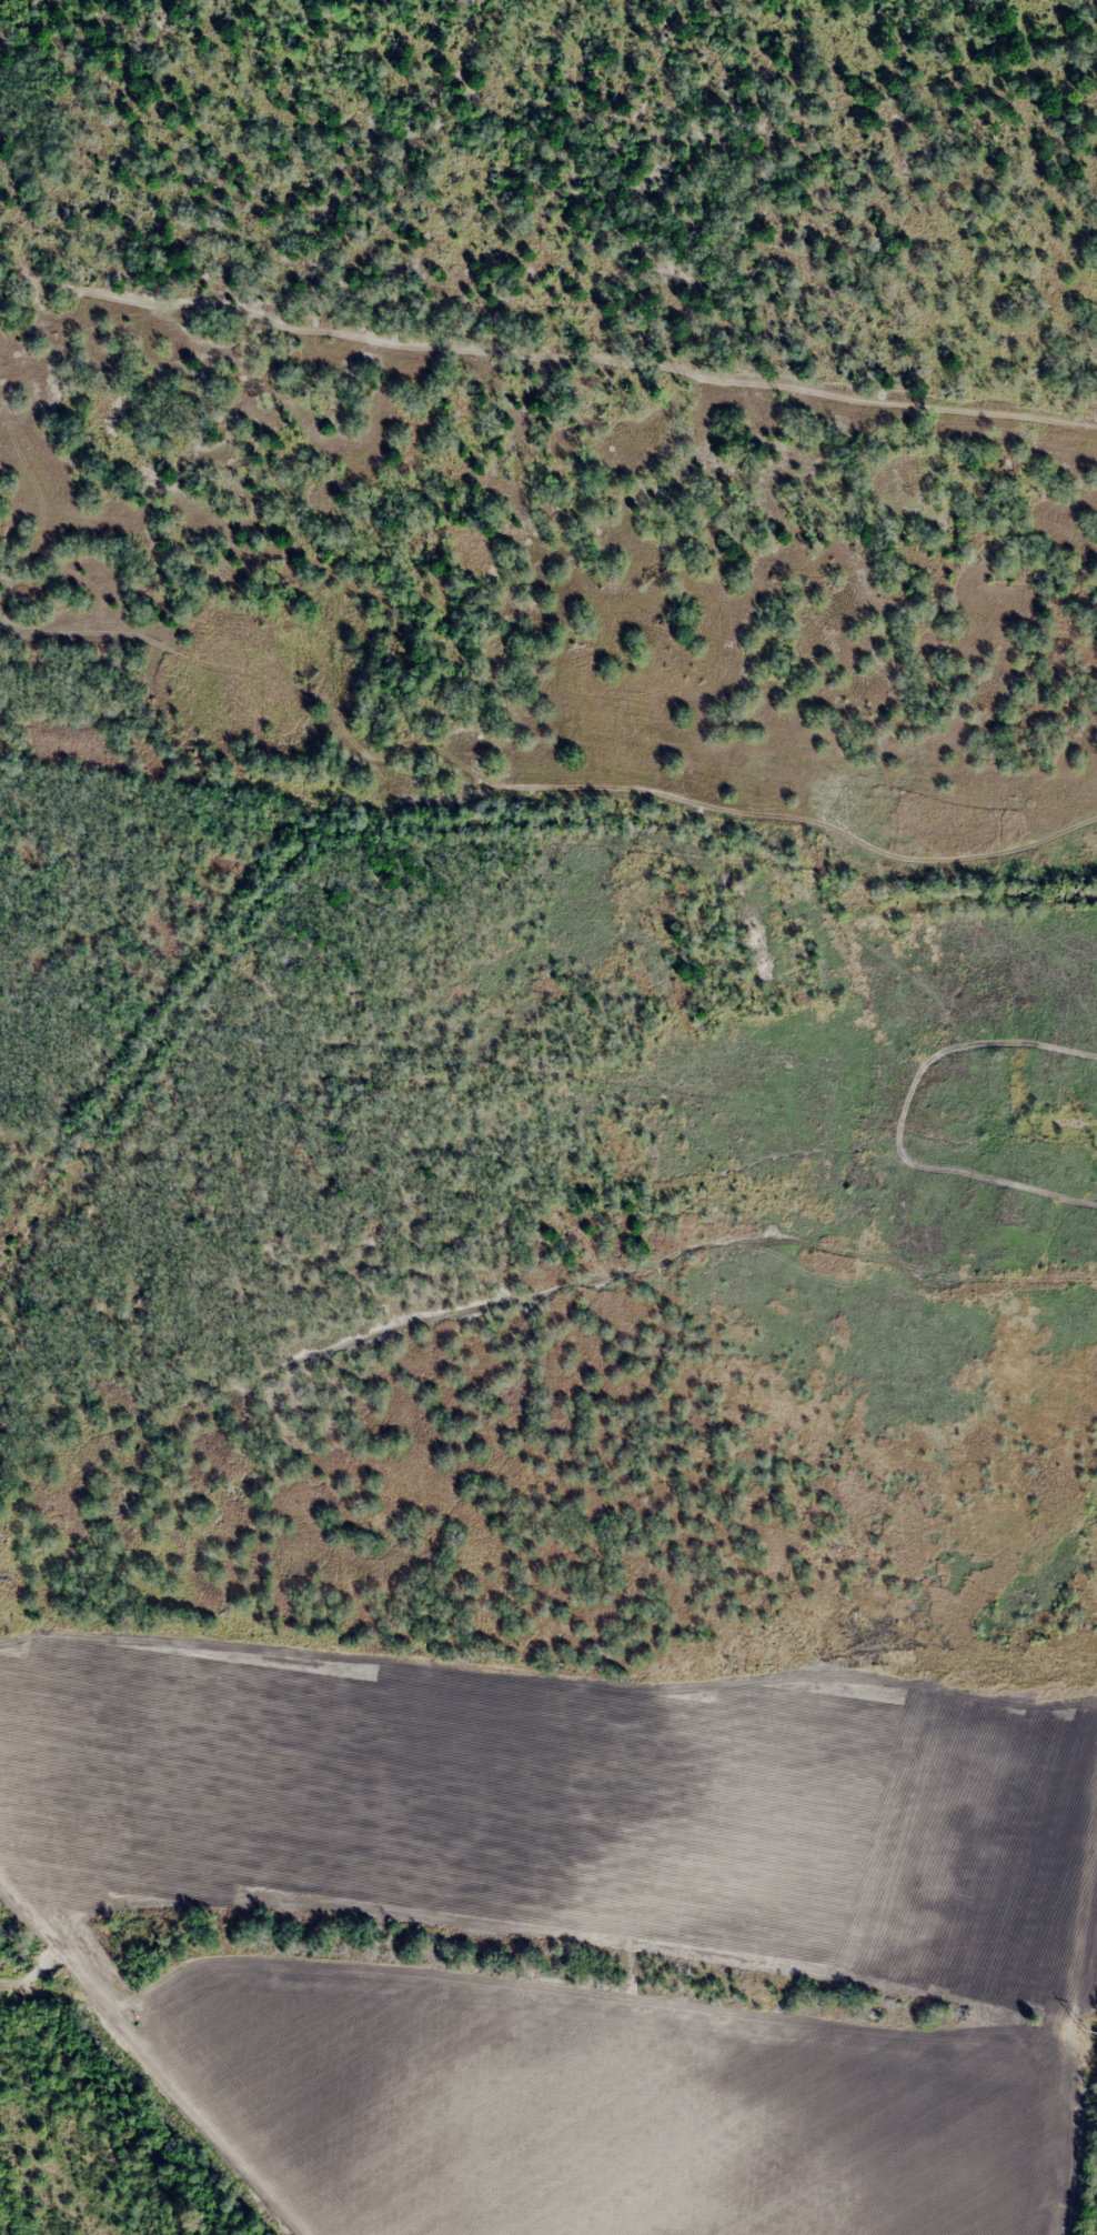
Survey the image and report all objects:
power tower: (133, 1982)
power tower: (1085, 2032)
road: (158, 2062)

